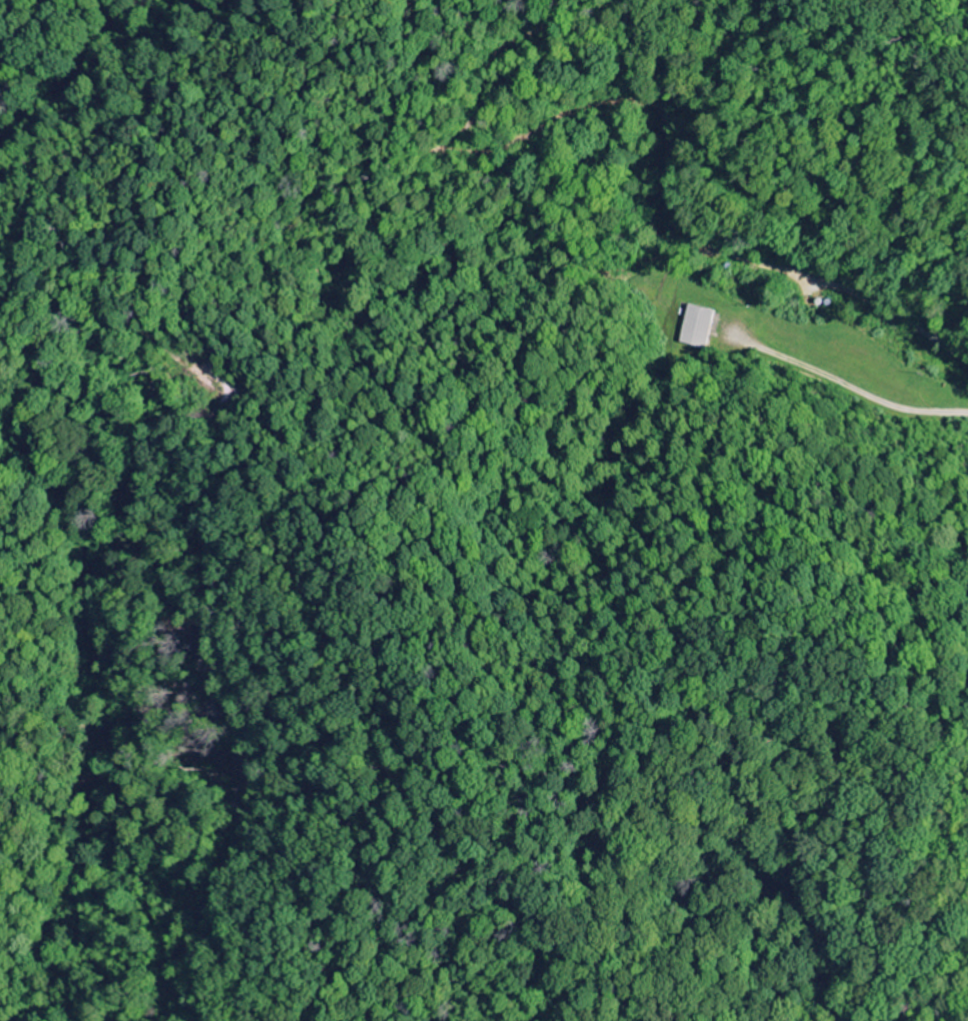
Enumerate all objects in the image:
building: (697, 326)

